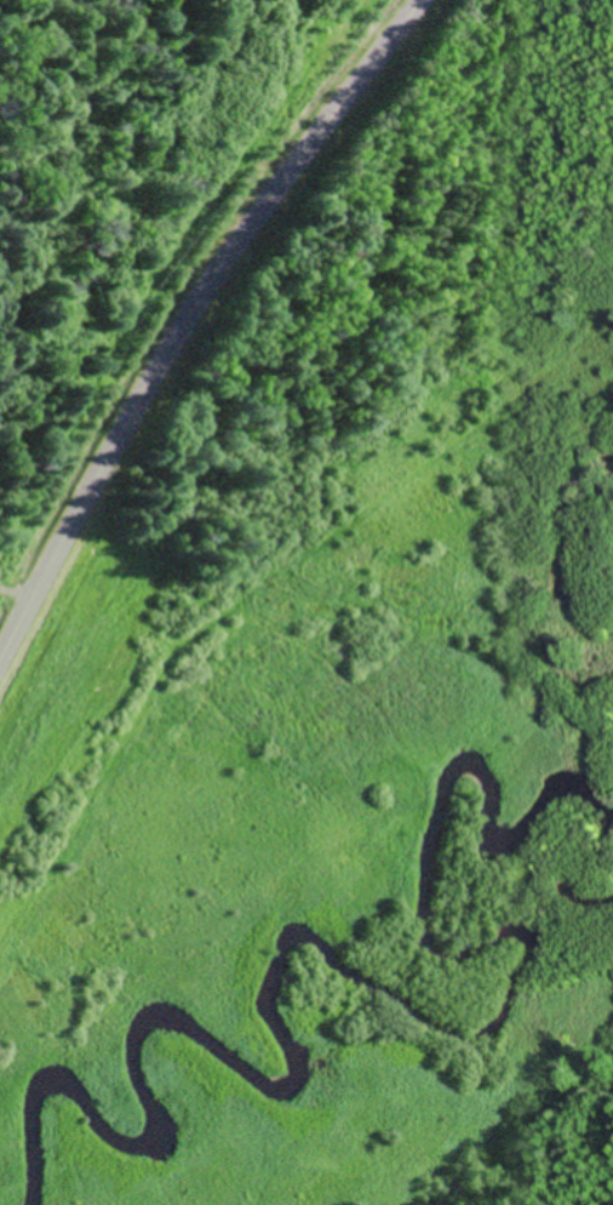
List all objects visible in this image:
road: (188, 314)

